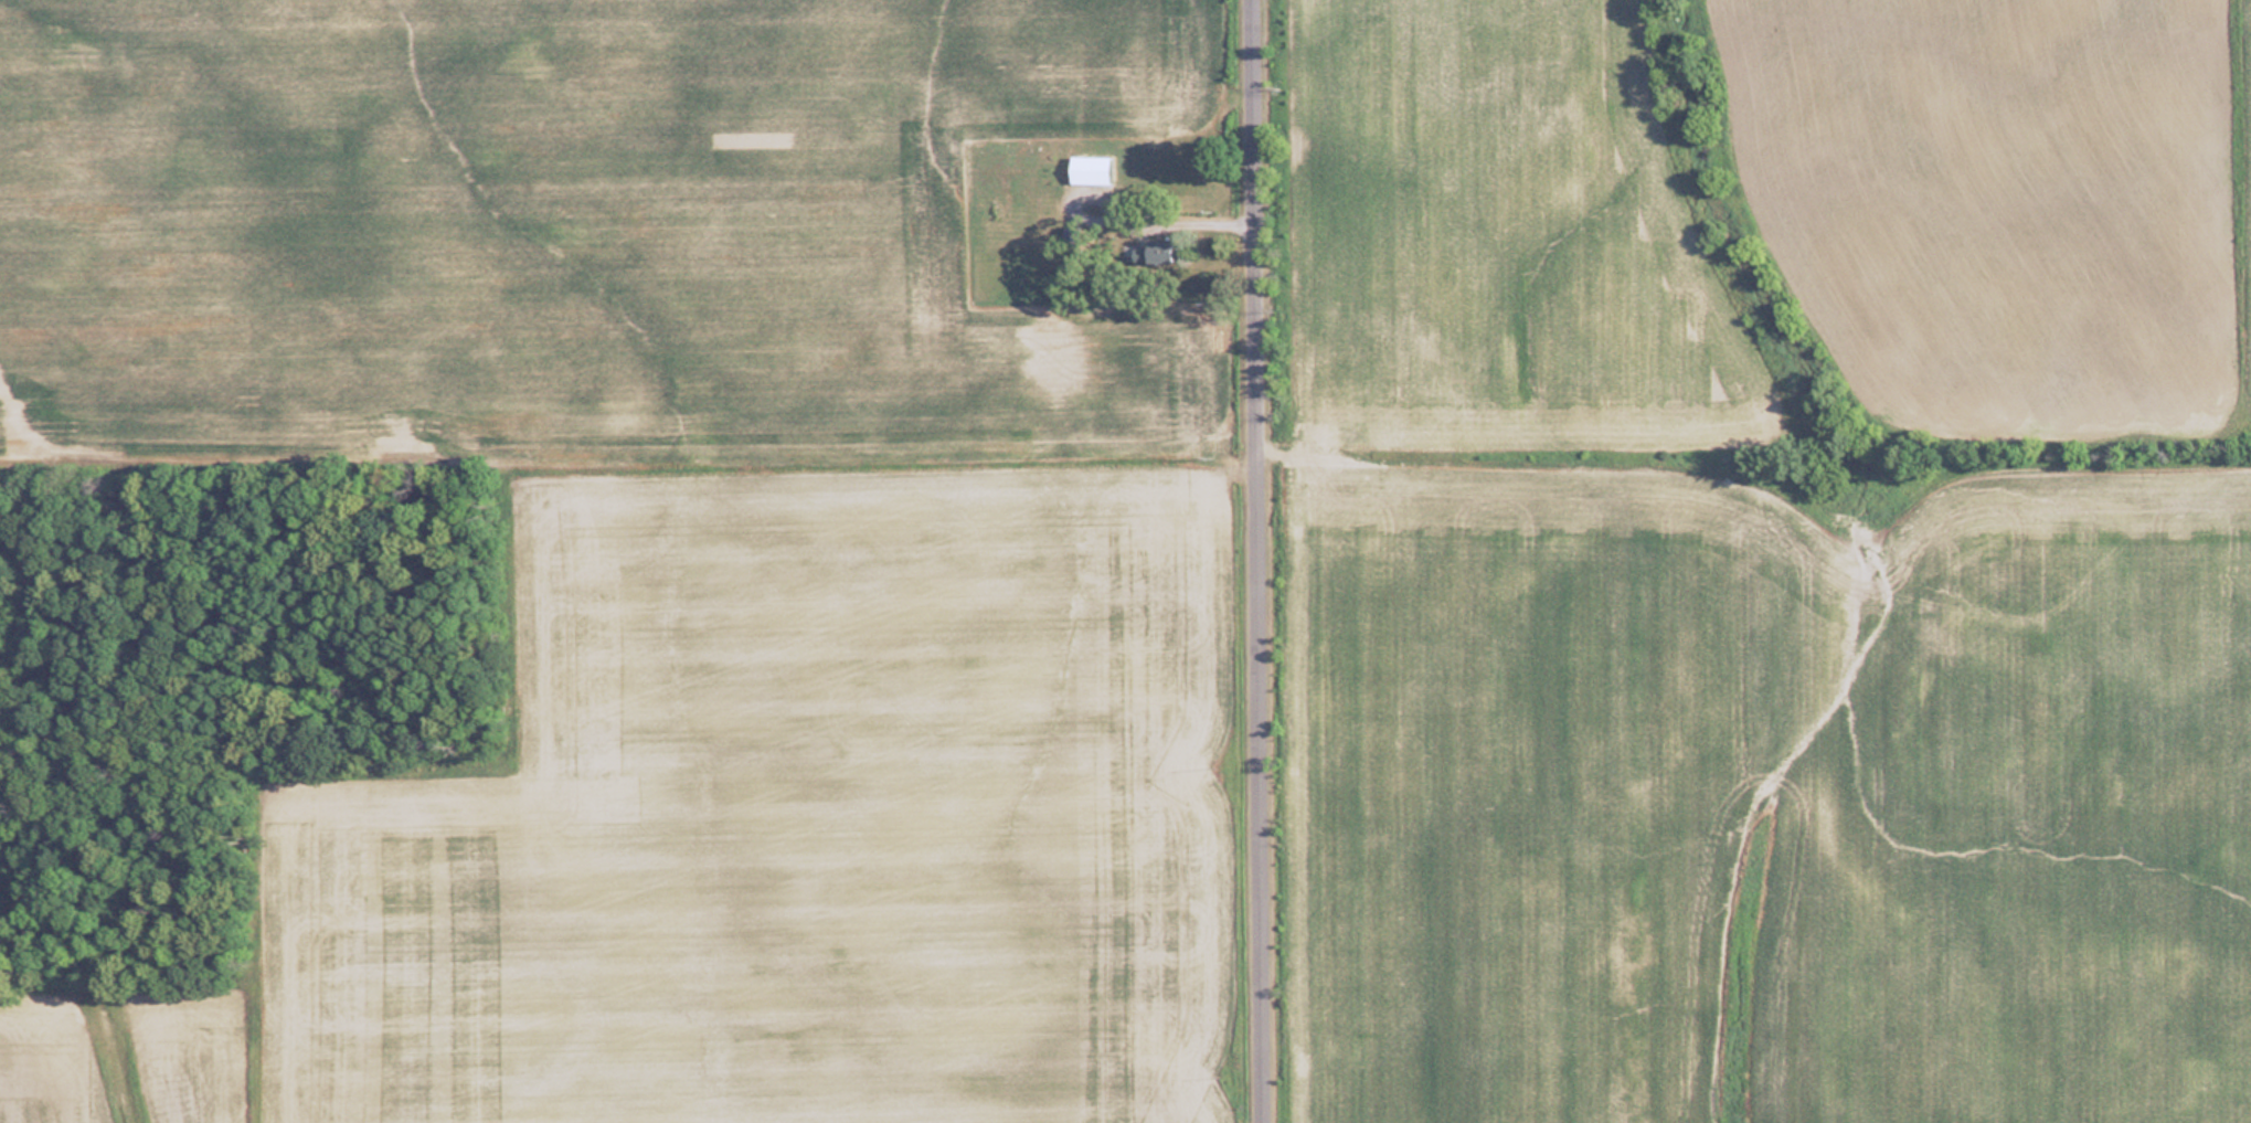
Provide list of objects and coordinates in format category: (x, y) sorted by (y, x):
building: (1018, 198)
road: (1085, 200)
building: (1155, 251)
road: (1259, 561)

